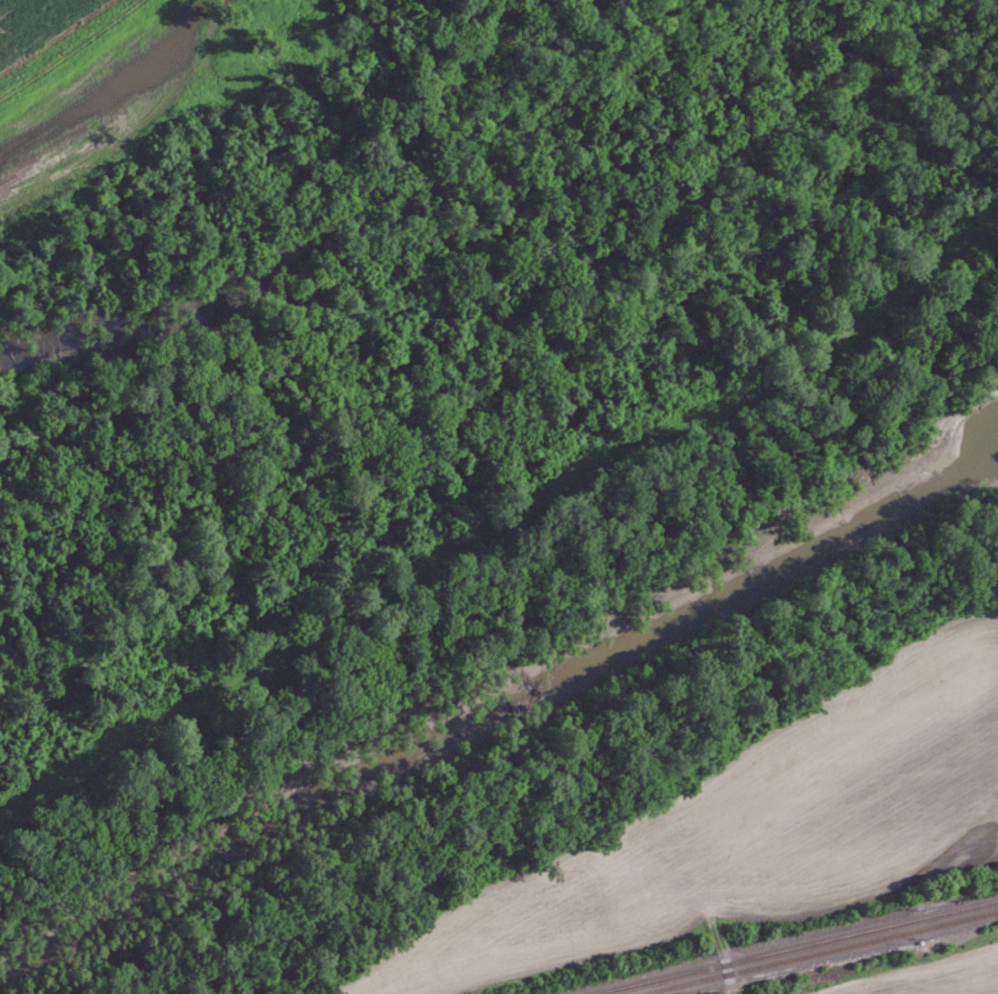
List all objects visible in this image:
railway: (796, 948)
railway: (822, 953)

